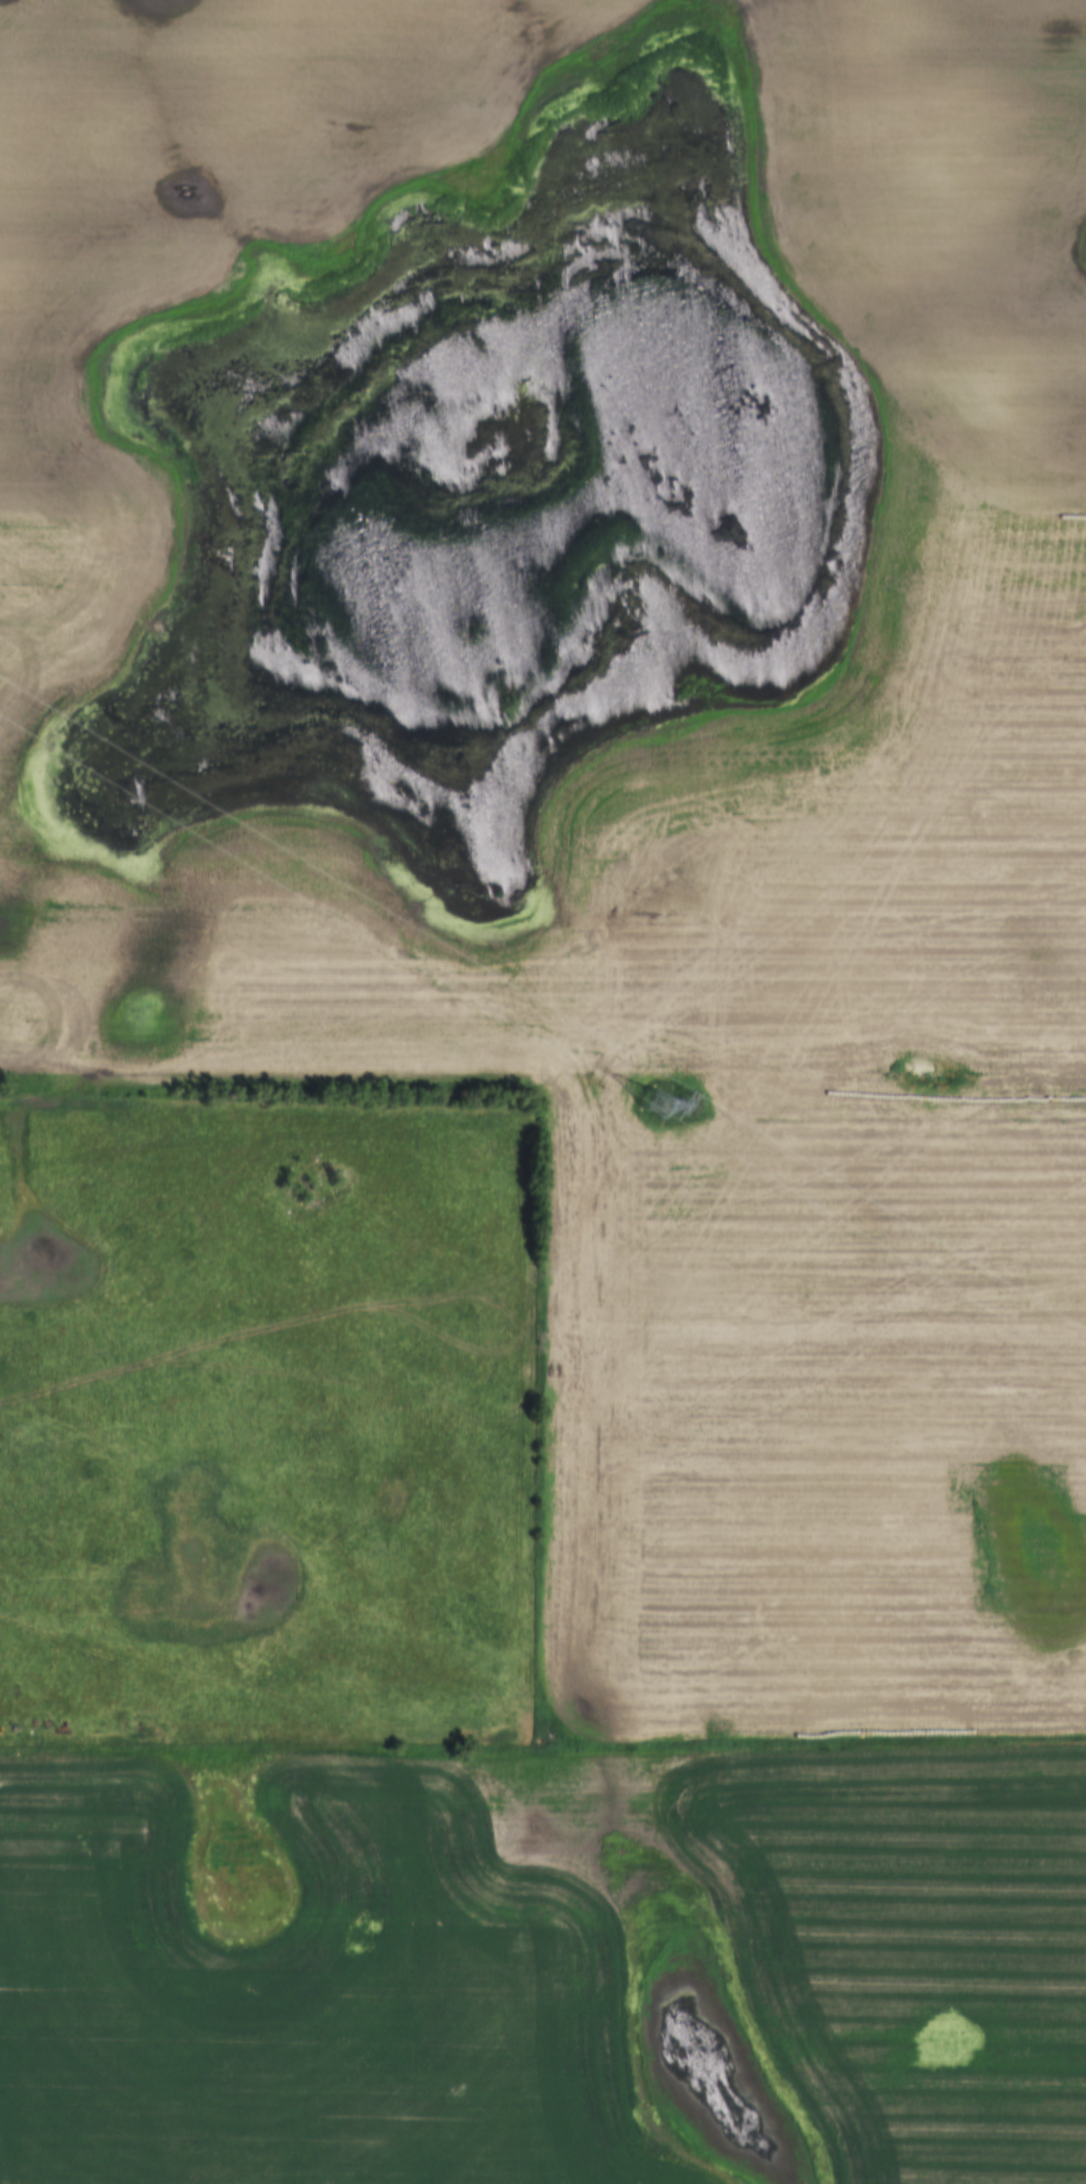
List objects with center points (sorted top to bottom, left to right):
power tower: (653, 1111)

